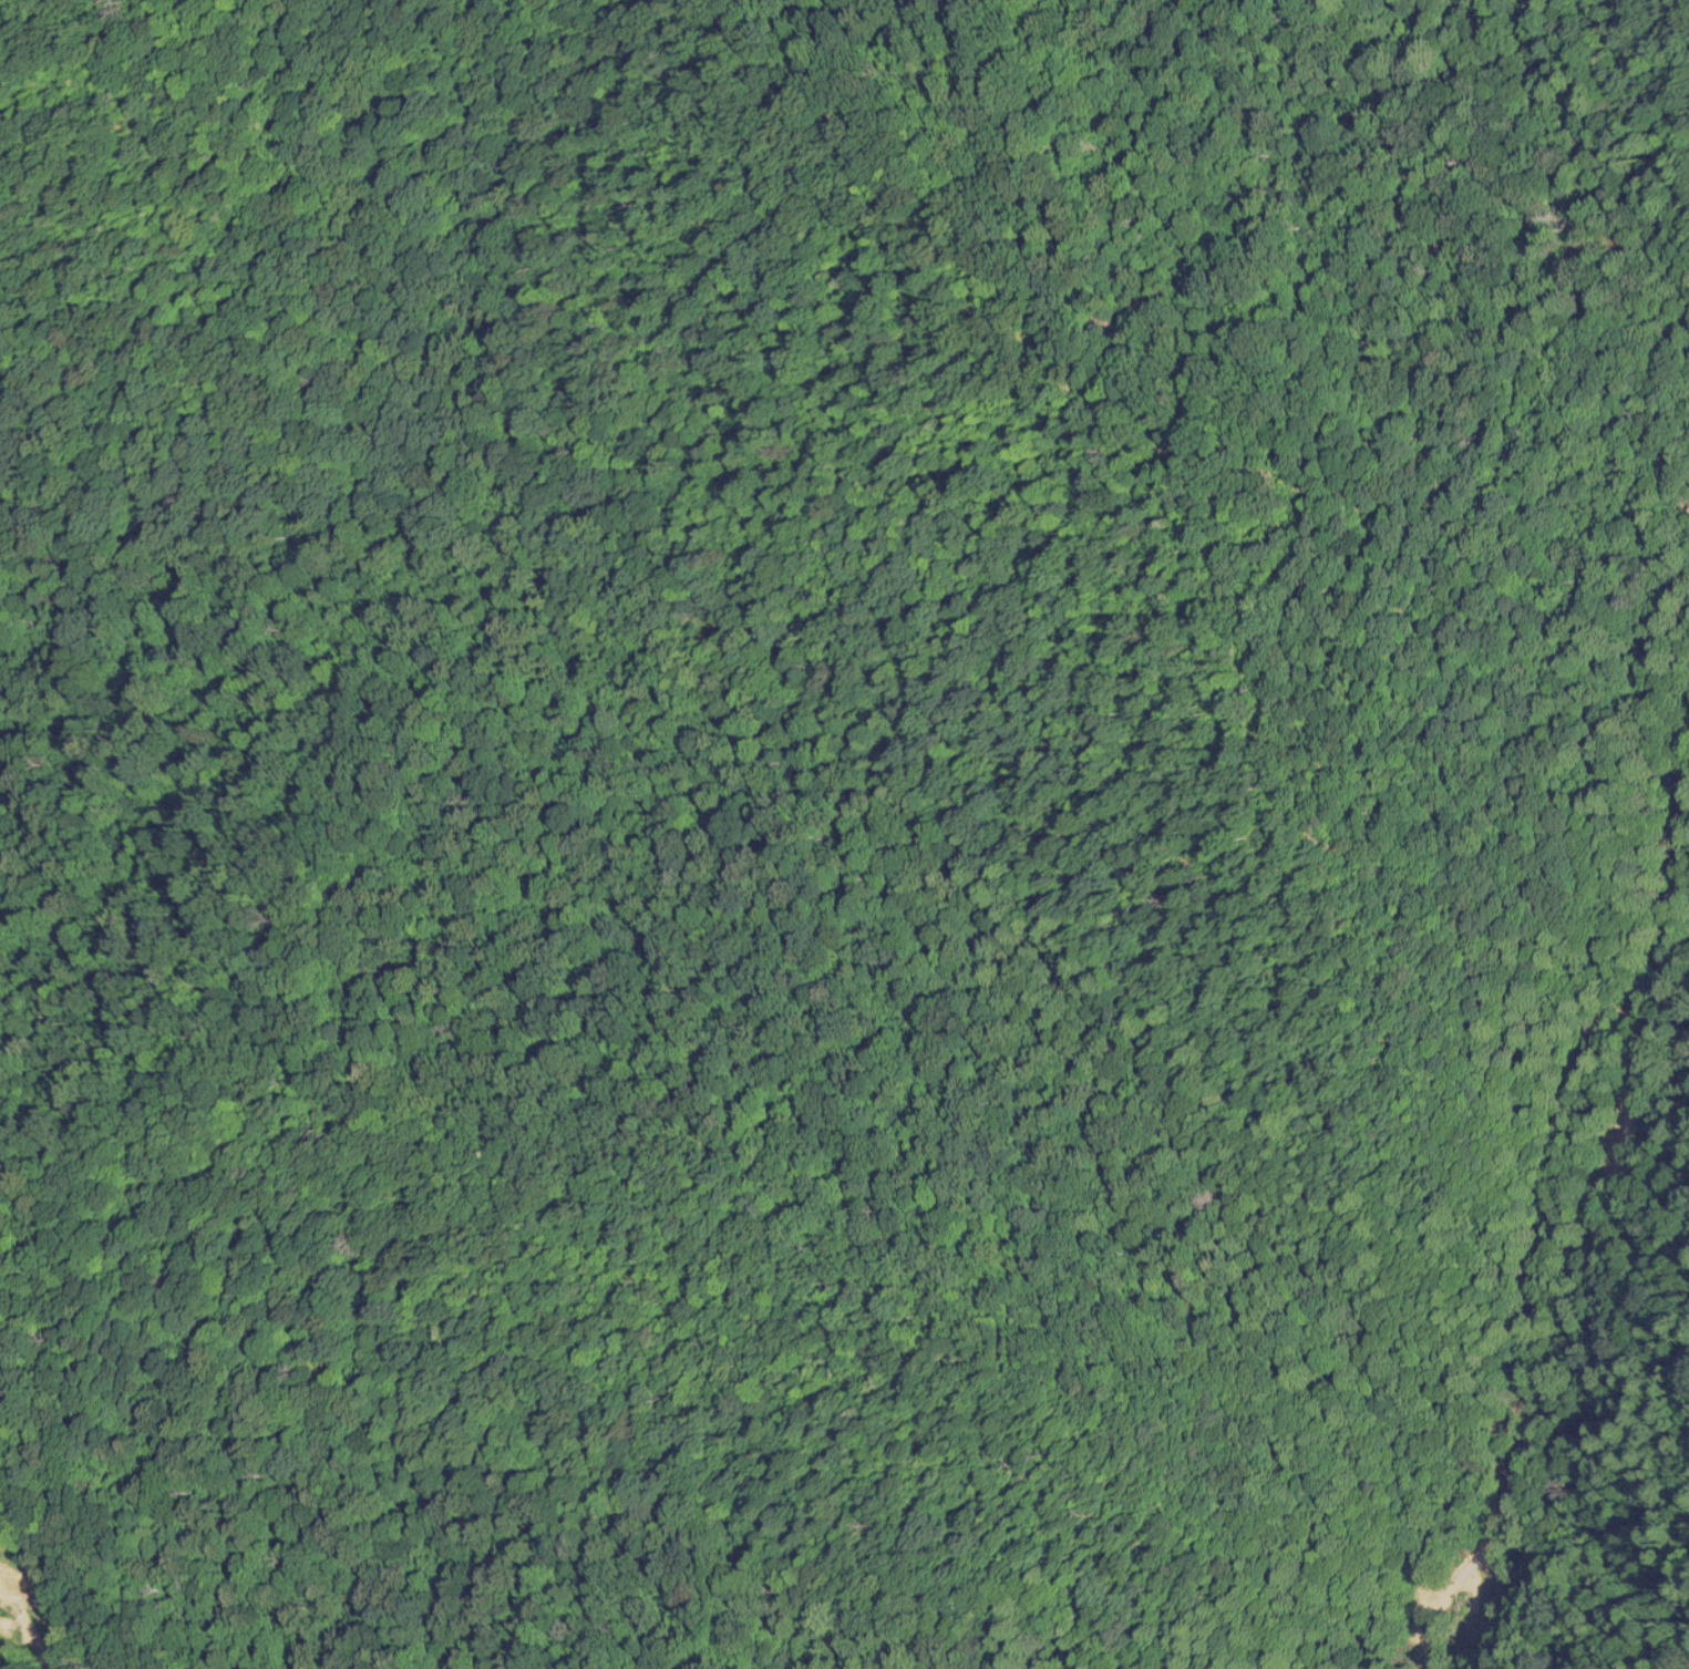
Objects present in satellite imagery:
road: (1673, 19)
road: (1569, 1313)

